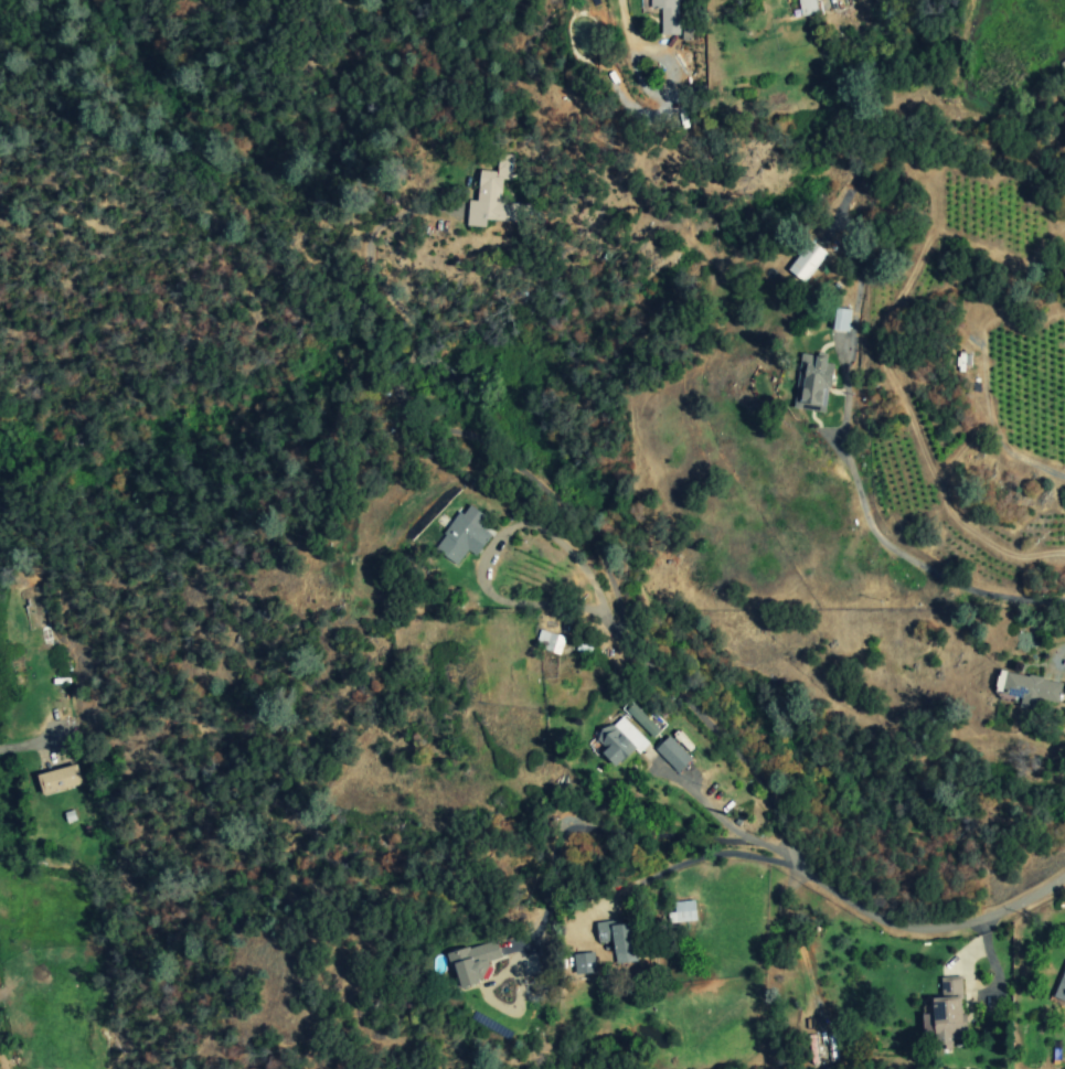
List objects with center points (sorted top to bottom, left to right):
road: (619, 11)
building: (668, 15)
building: (492, 195)
building: (807, 261)
building: (841, 320)
building: (812, 383)
road: (991, 425)
road: (861, 503)
building: (464, 536)
road: (481, 567)
road: (619, 618)
building: (549, 642)
building: (1027, 688)
building: (642, 720)
building: (620, 740)
road: (18, 745)
building: (672, 753)
building: (60, 779)
road: (707, 803)
road: (621, 832)
road: (690, 860)
building: (682, 911)
building: (618, 939)
building: (473, 962)
building: (584, 963)
building: (1061, 988)
building: (946, 1014)

